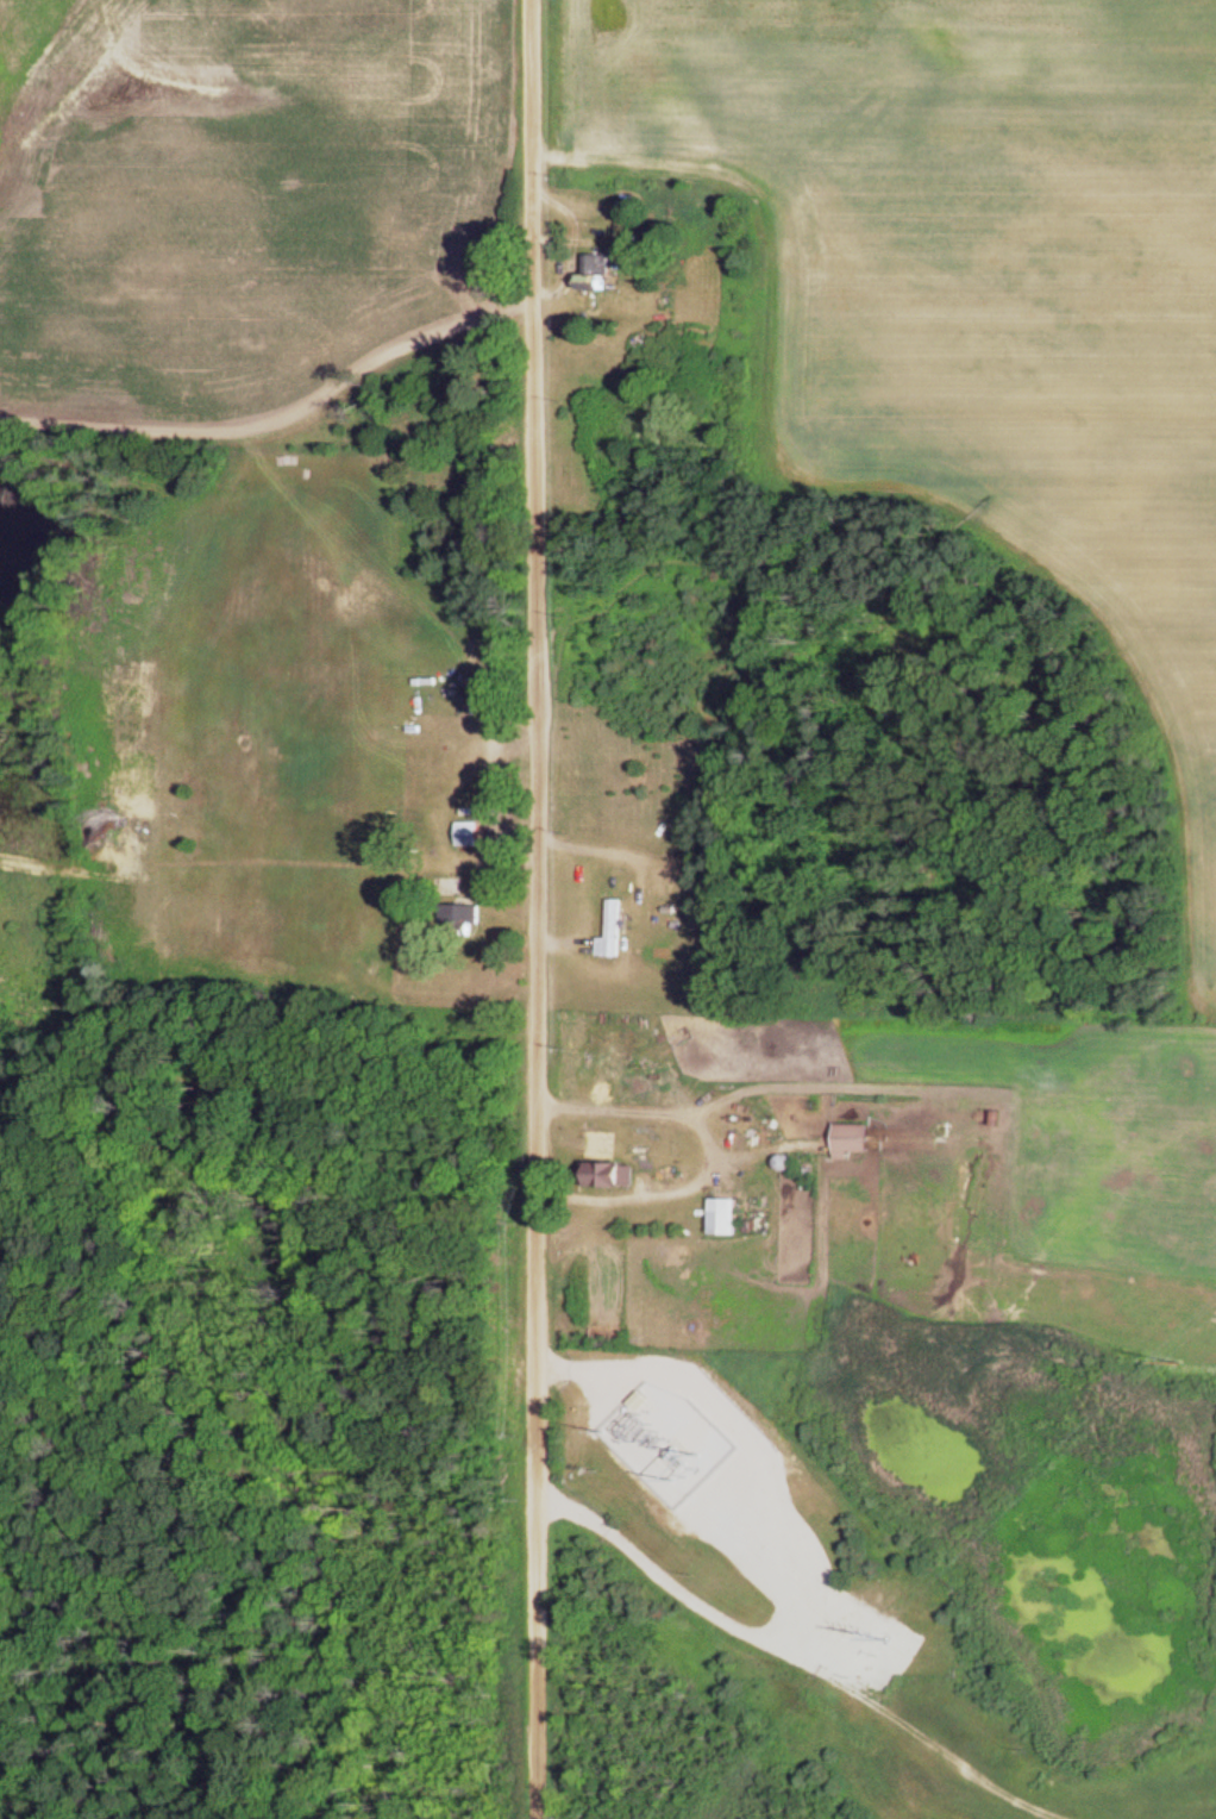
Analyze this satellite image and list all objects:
building: (596, 277)
building: (471, 836)
road: (529, 909)
building: (464, 918)
building: (614, 934)
building: (853, 1143)
building: (615, 1176)
building: (727, 1219)
power substation: (644, 1426)

